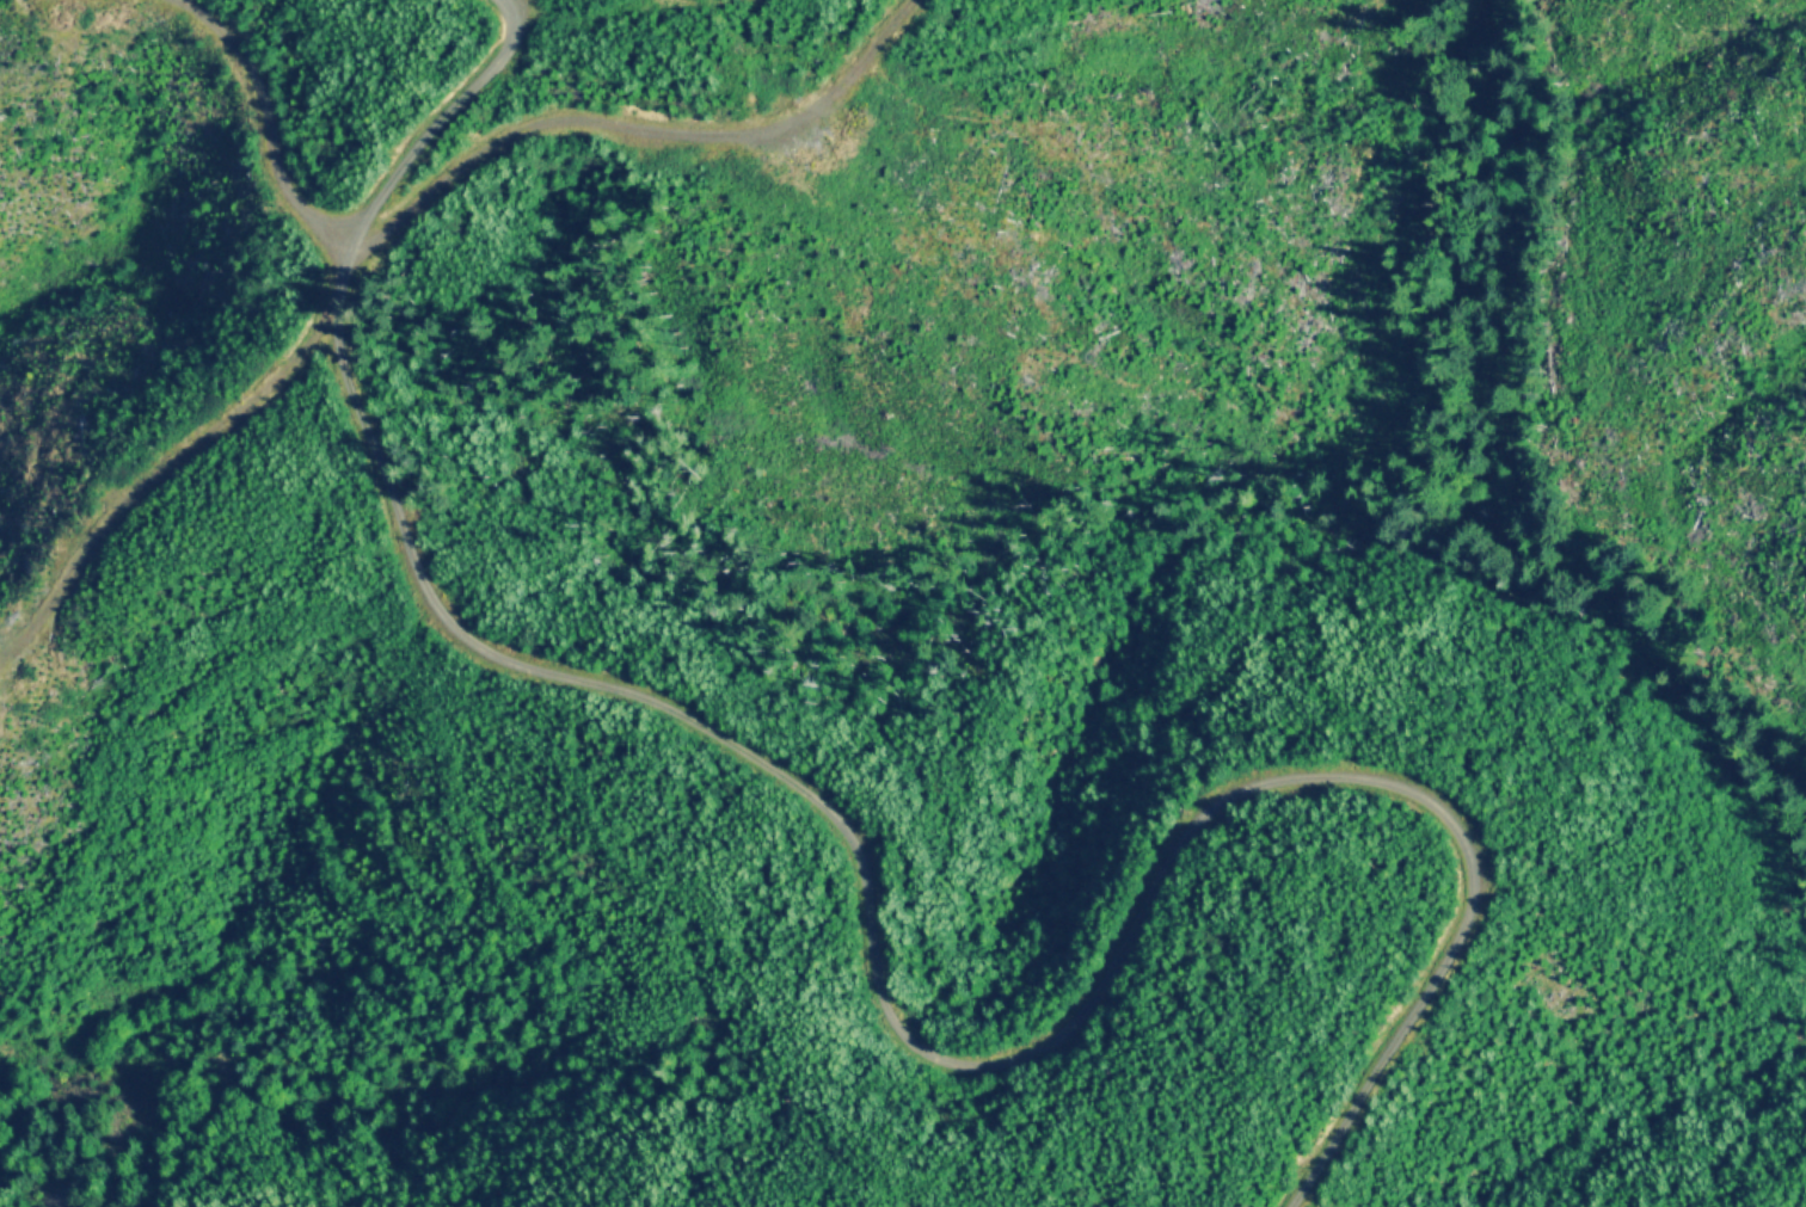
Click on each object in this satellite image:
road: (252, 123)
road: (442, 127)
road: (647, 129)
road: (942, 1067)

